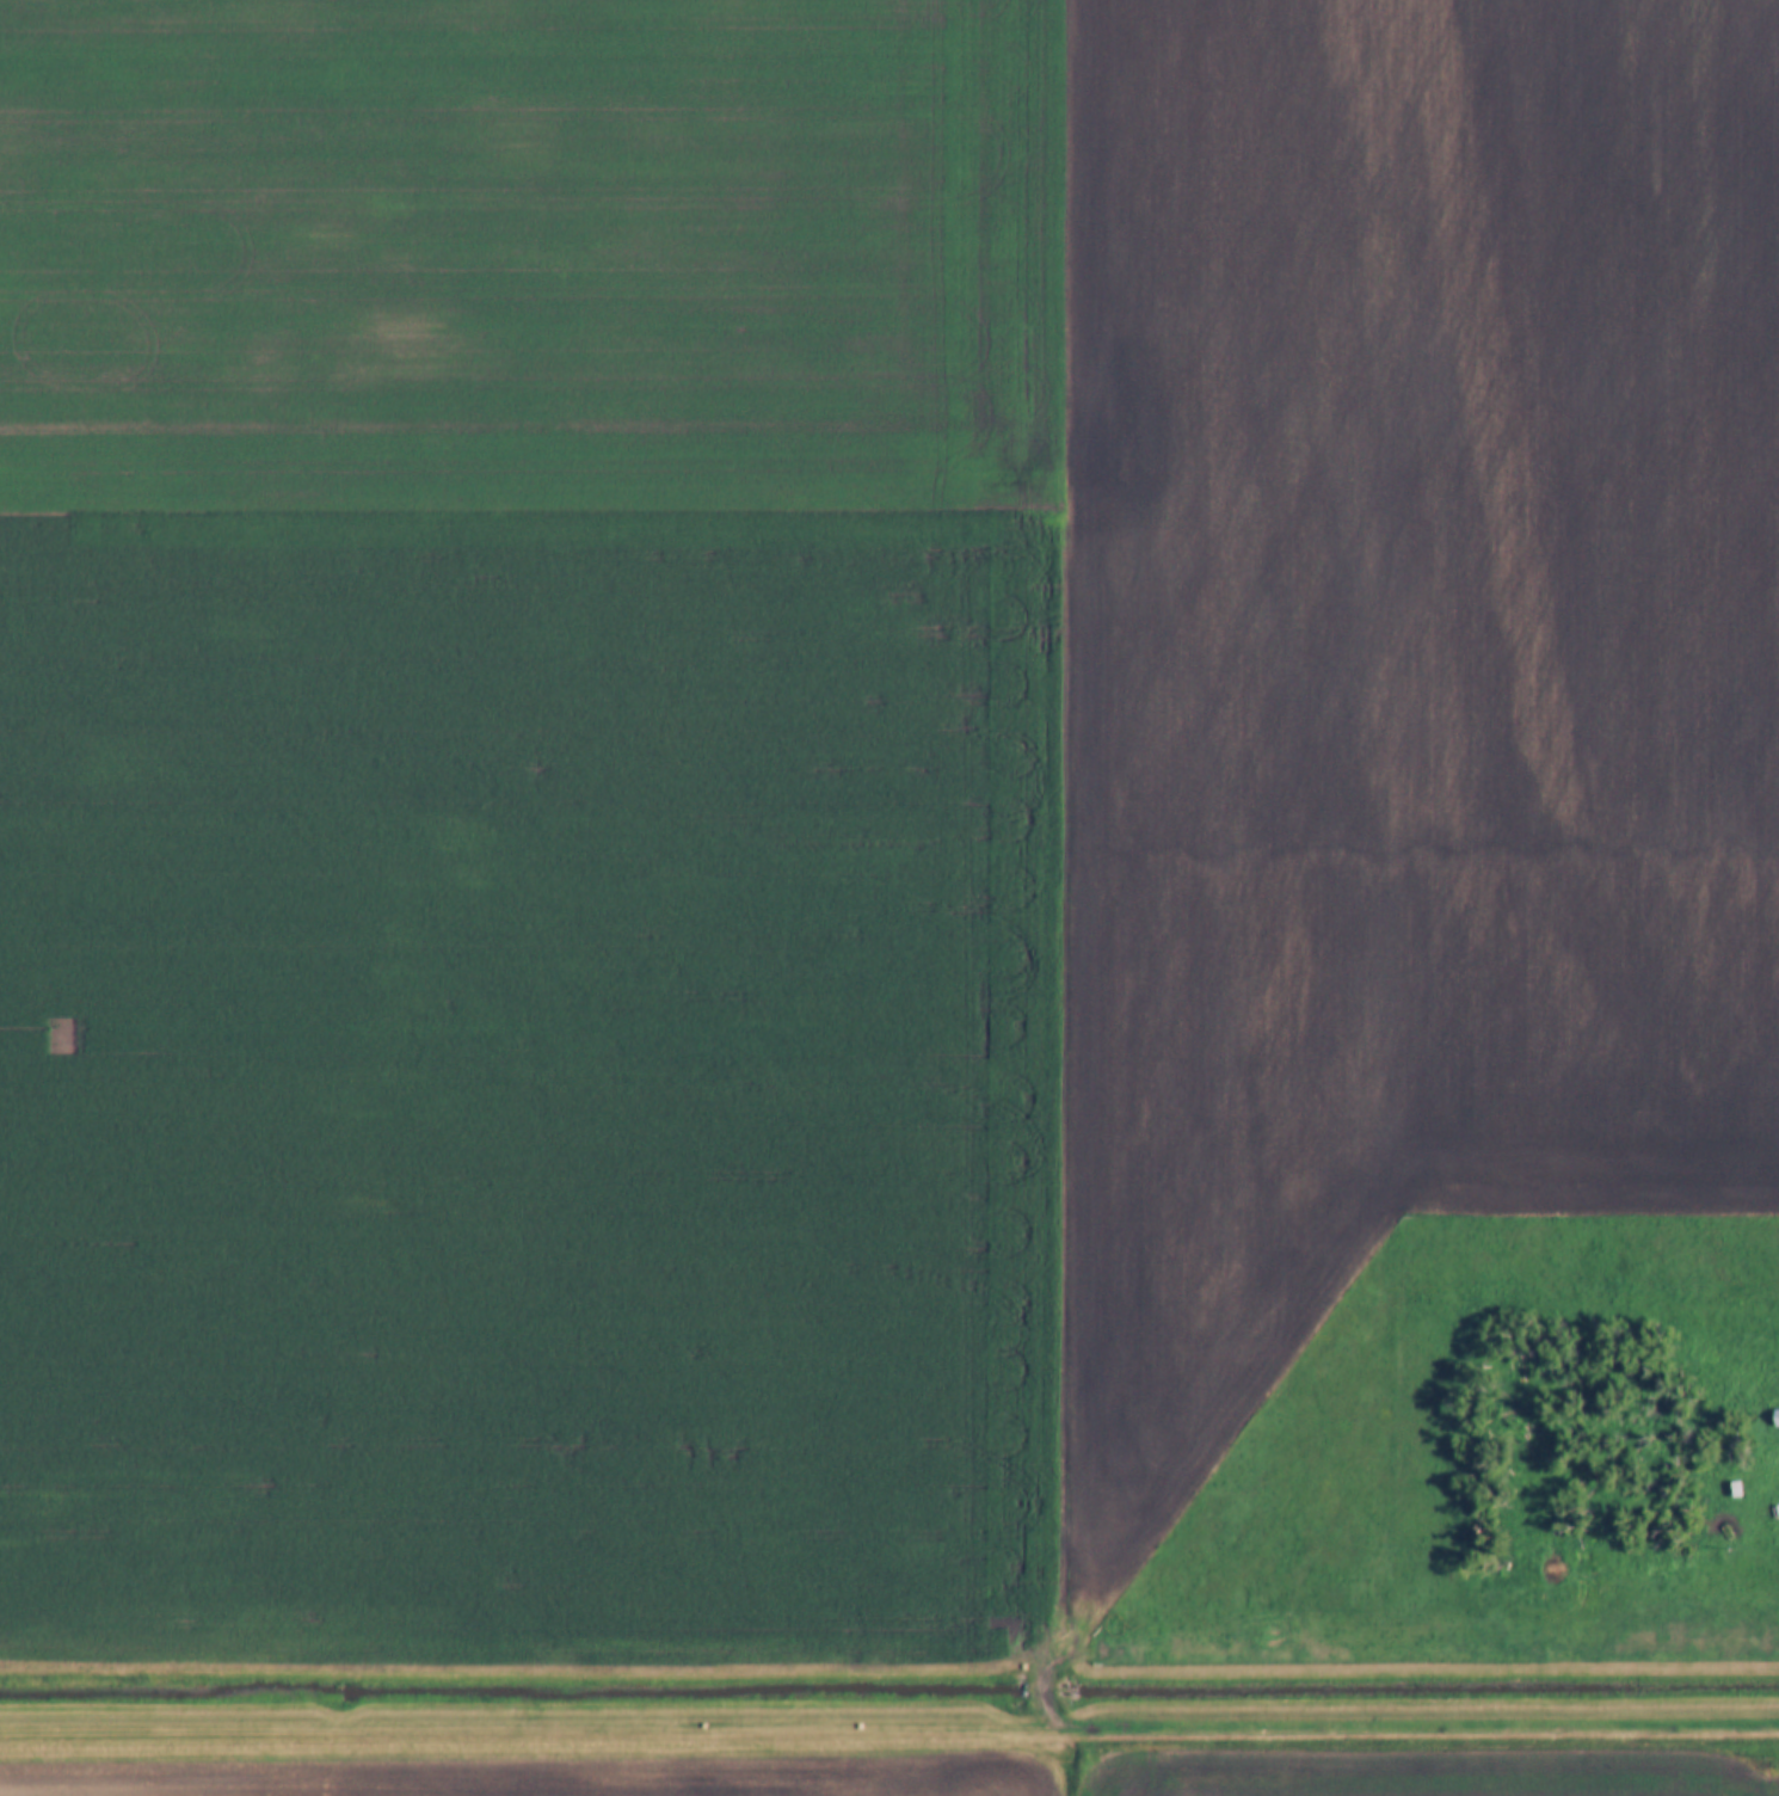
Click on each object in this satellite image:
building: (1774, 1417)
road: (1360, 1648)
road: (889, 1717)

